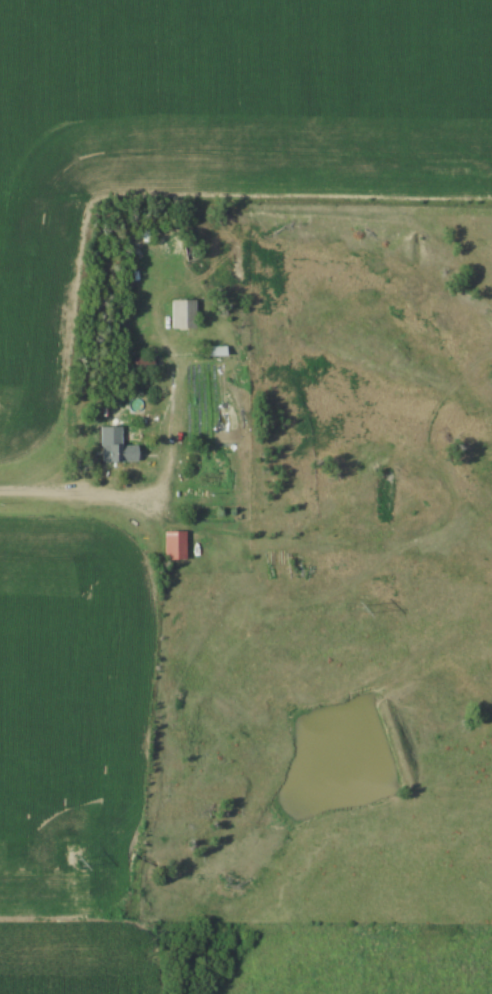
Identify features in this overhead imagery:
building: (194, 250)
building: (185, 315)
building: (216, 352)
building: (124, 454)
road: (114, 497)
building: (177, 547)
power tower: (362, 611)
power tower: (80, 863)

